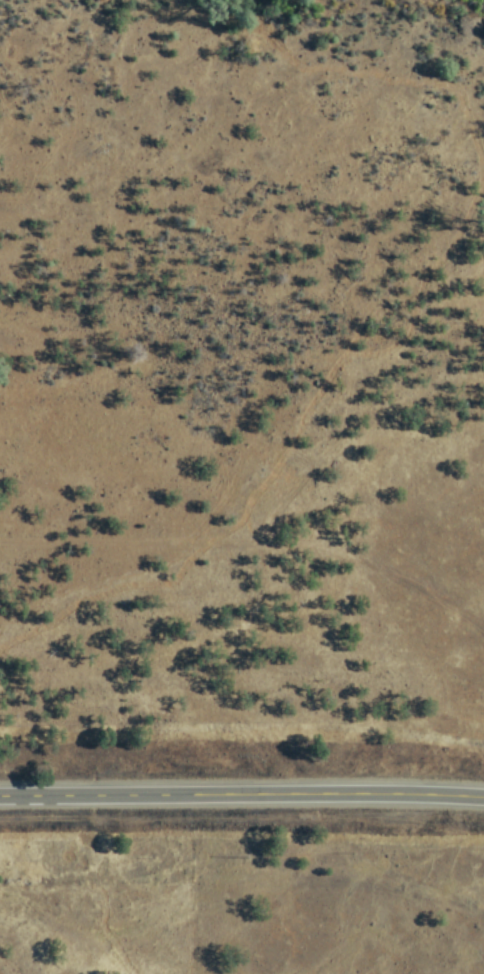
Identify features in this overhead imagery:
road: (242, 794)

